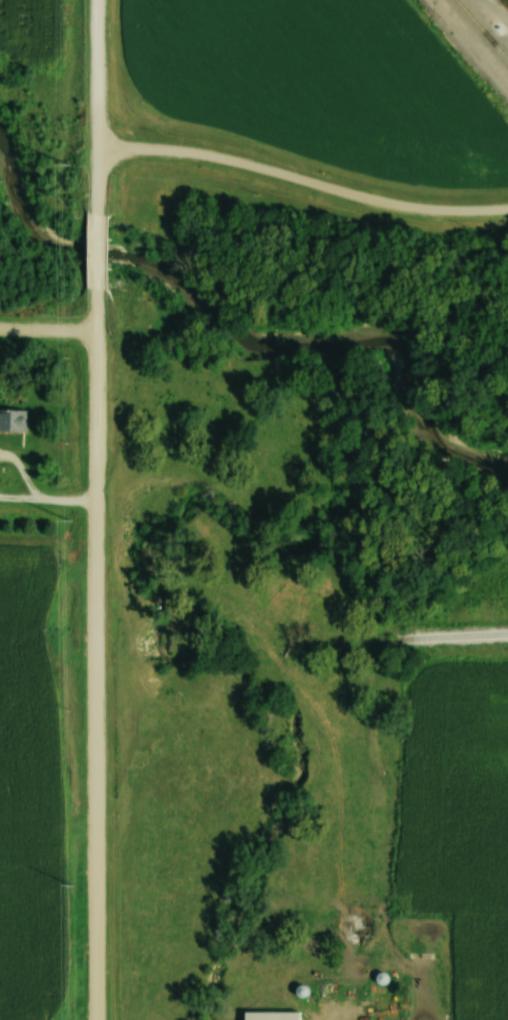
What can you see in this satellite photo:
railway: (479, 31)
crop: (326, 85)
road: (100, 107)
road: (302, 207)
road: (102, 251)
road: (51, 324)
building: (12, 418)
road: (98, 653)
building: (269, 1015)

